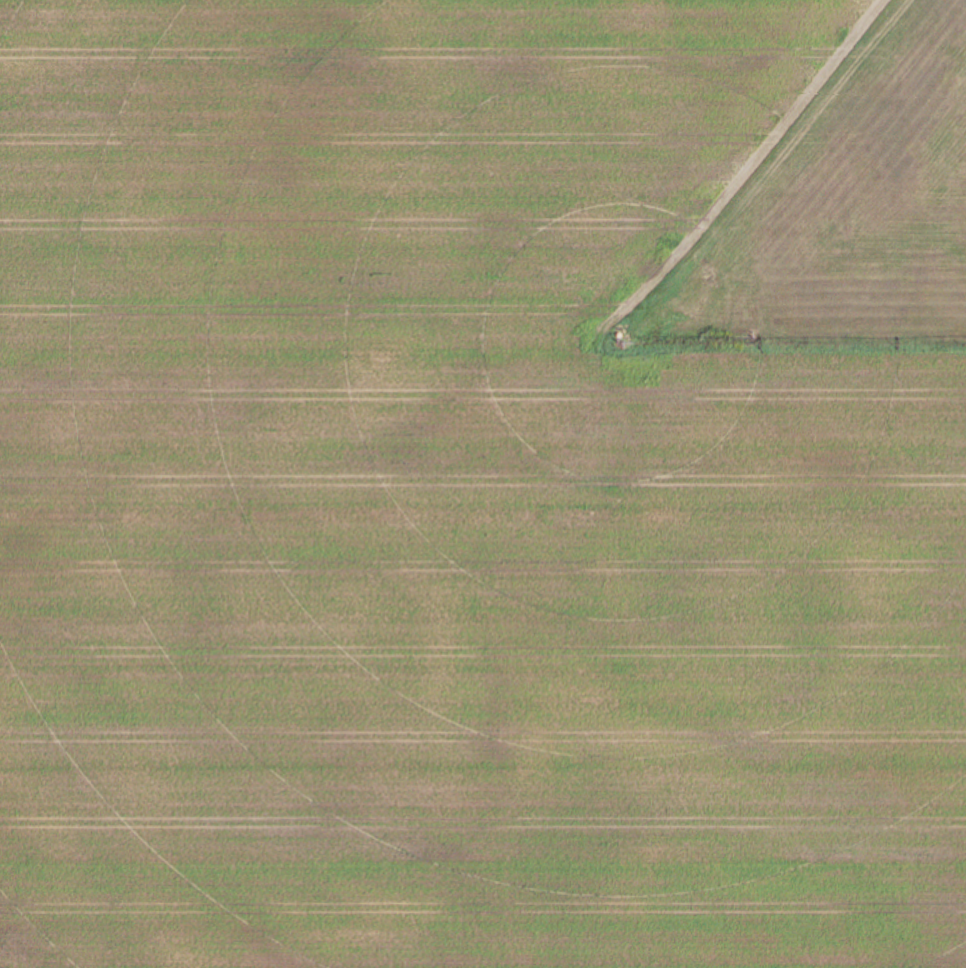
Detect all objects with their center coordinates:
crop: (483, 484)

